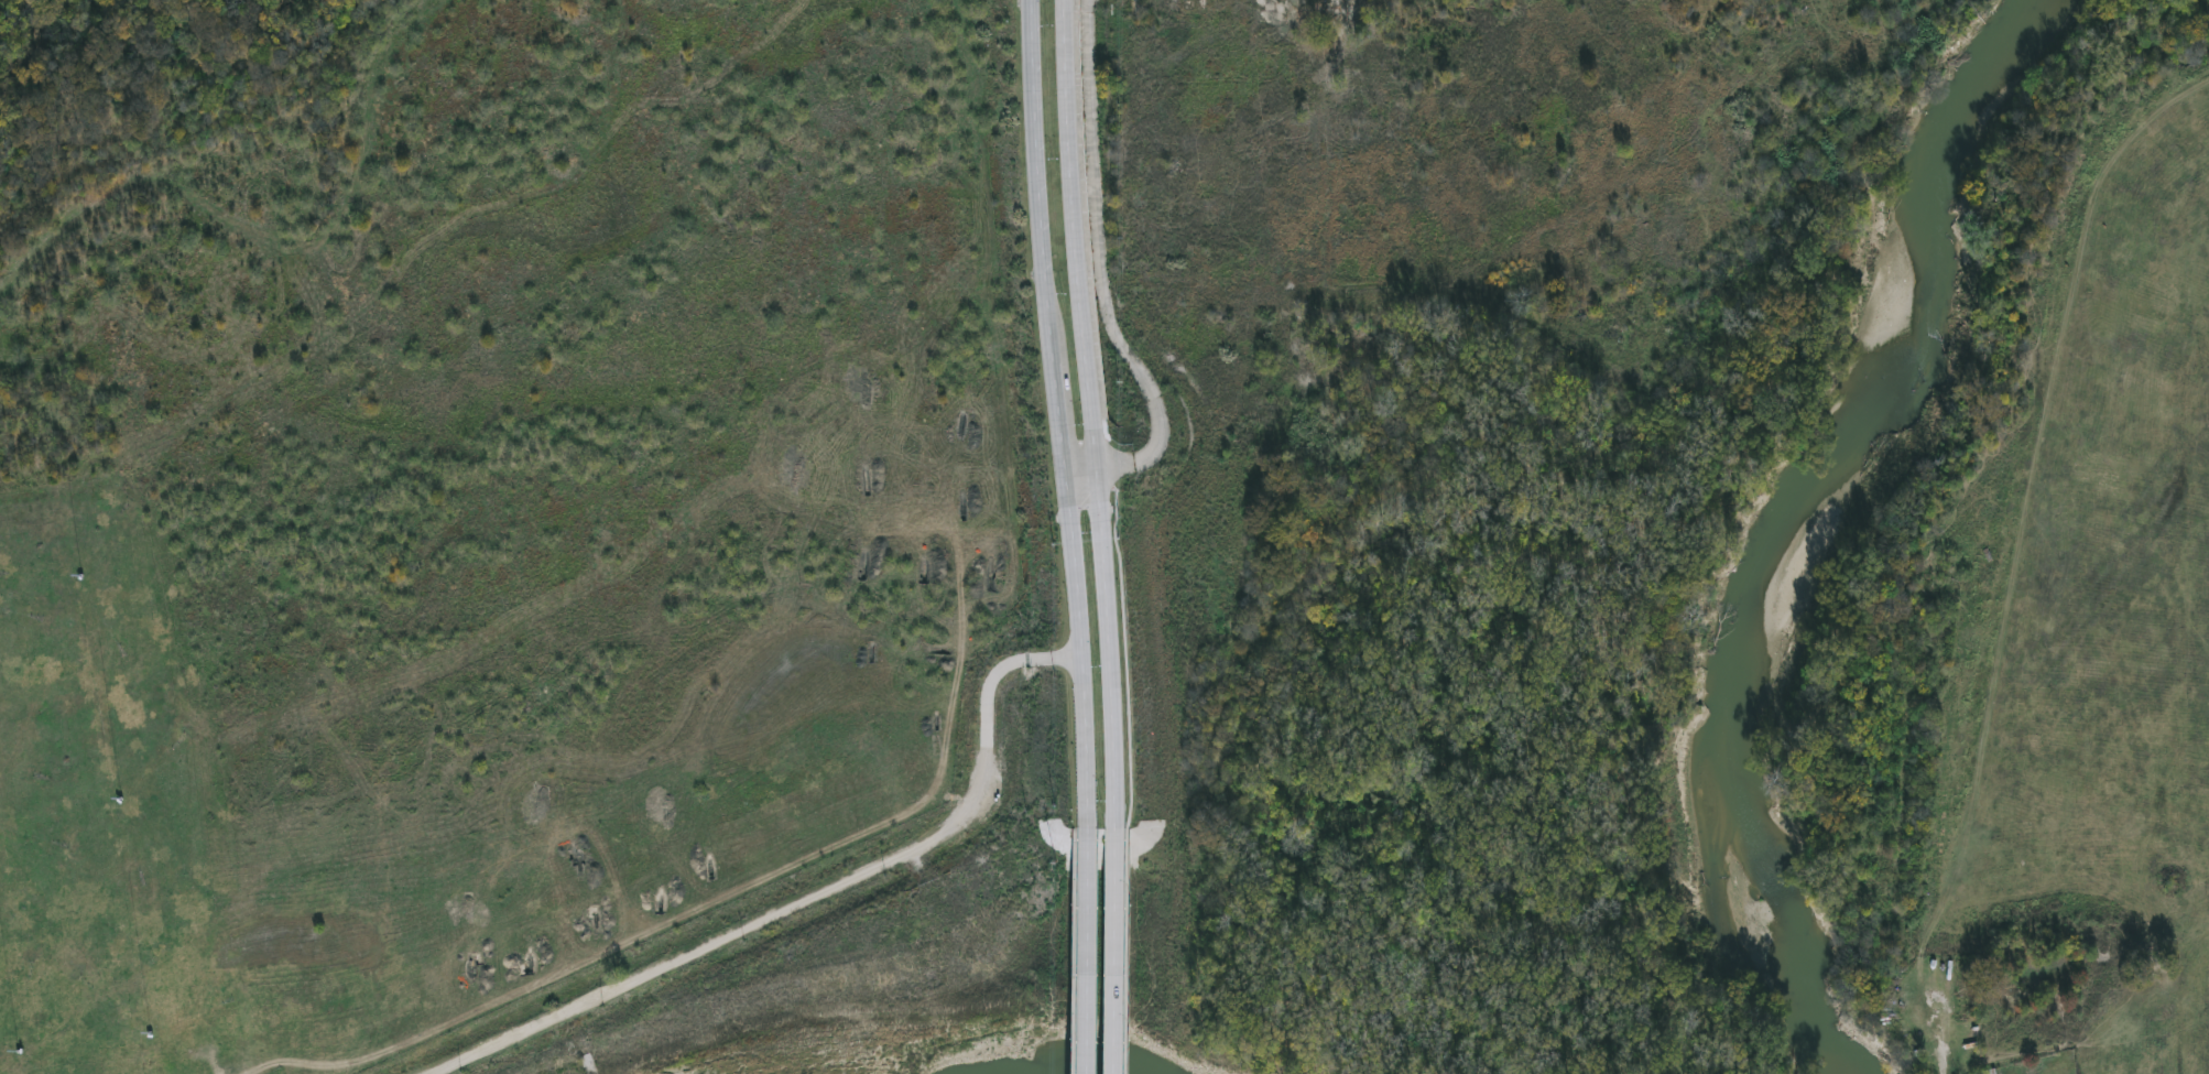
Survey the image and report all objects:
road: (1040, 182)
road: (1108, 282)
road: (1089, 328)
road: (1060, 417)
river: (1825, 525)
road: (1074, 566)
road: (1116, 742)
road: (1085, 745)
road: (813, 900)
road: (1085, 951)
road: (1116, 951)

